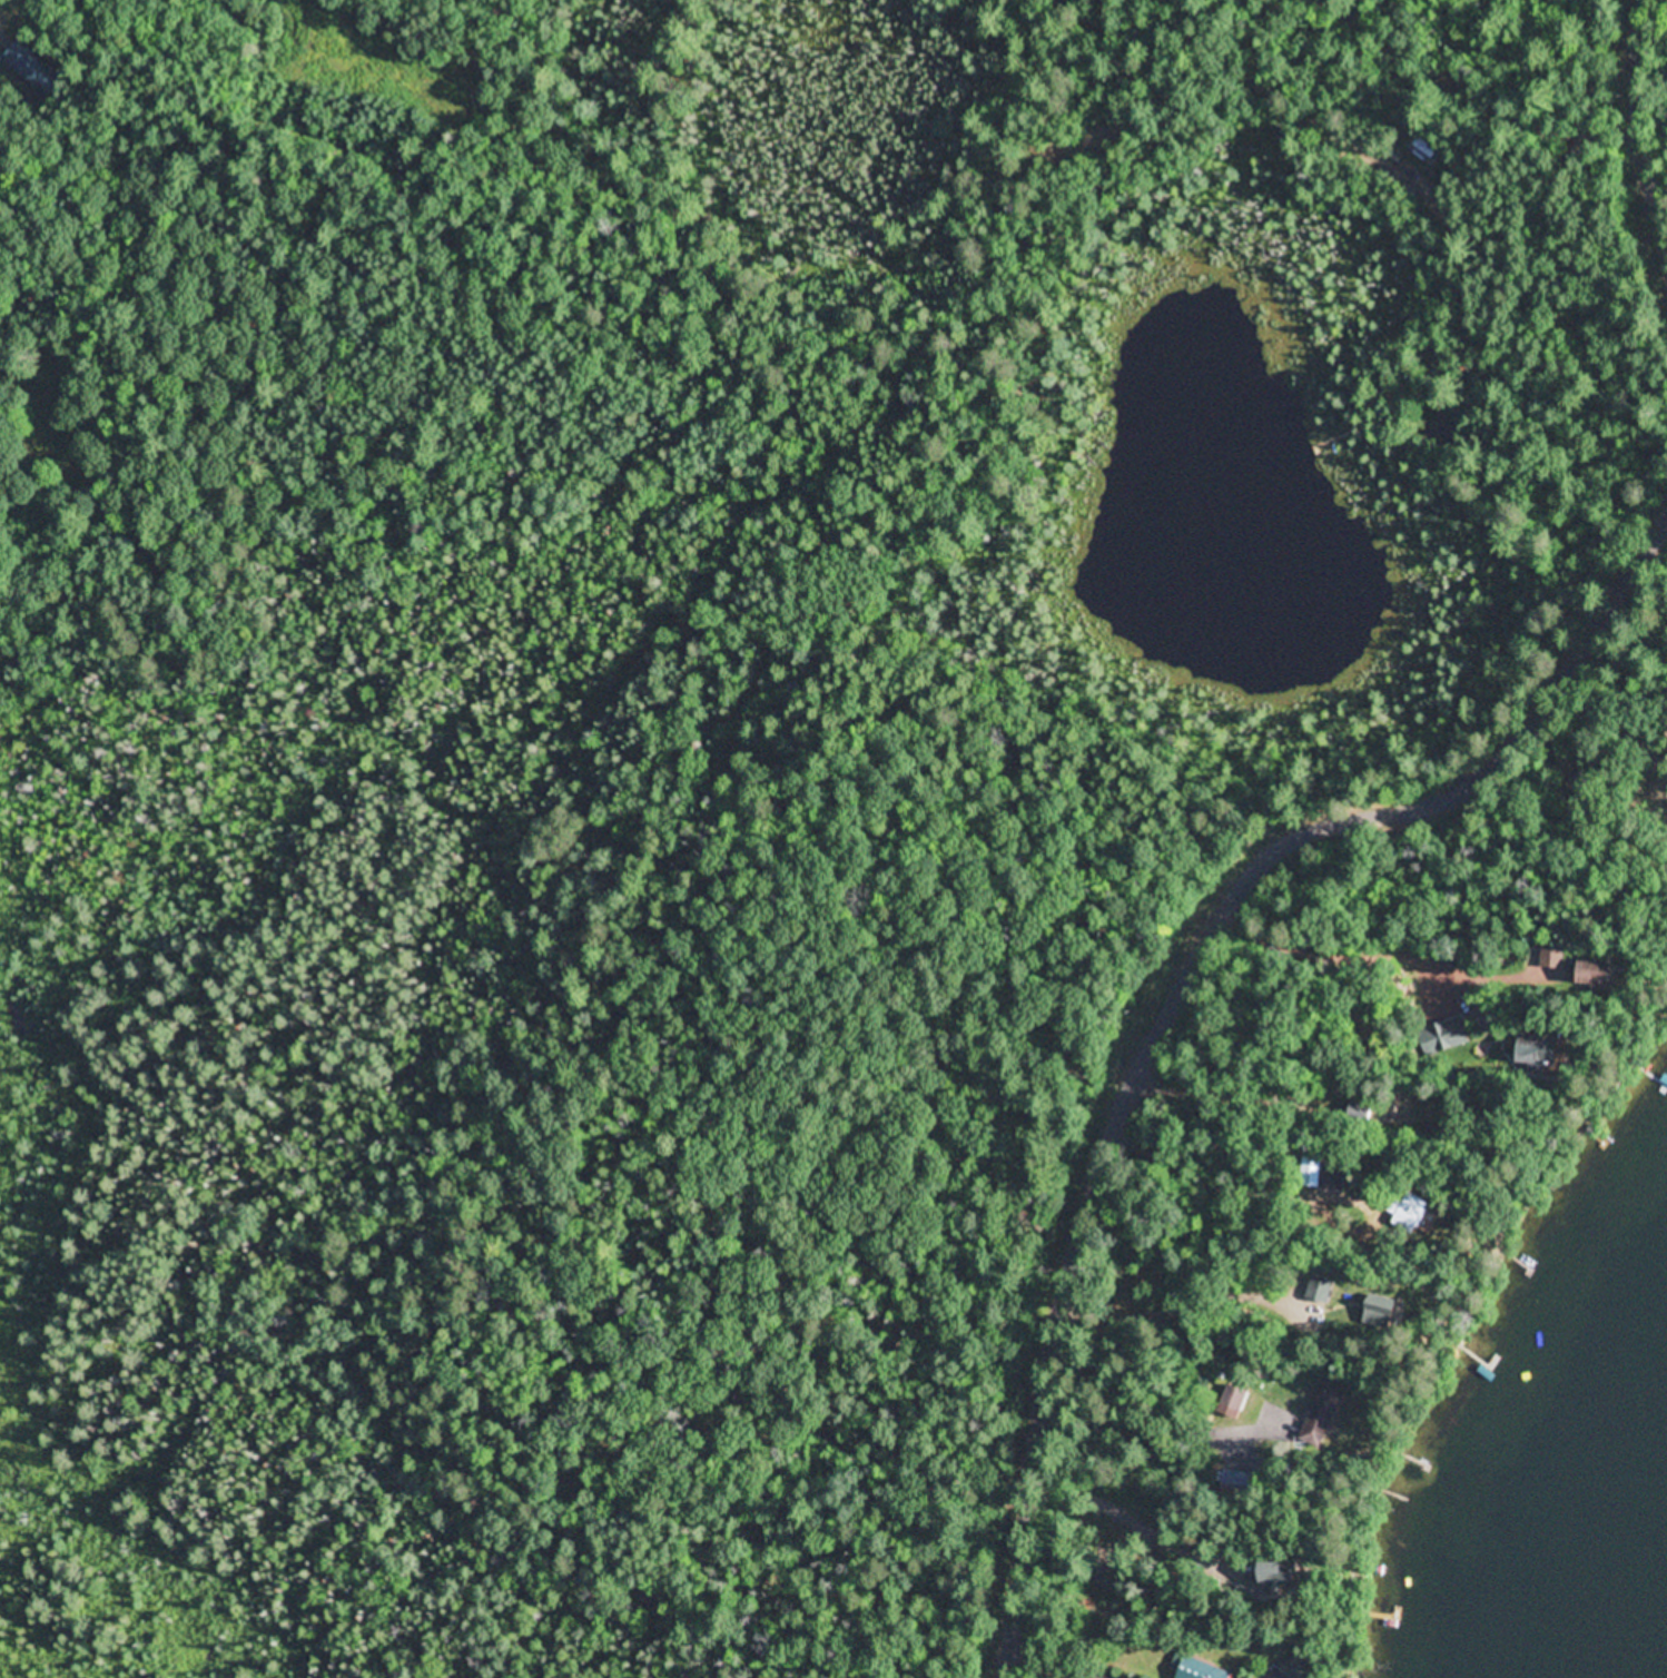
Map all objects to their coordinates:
road: (1644, 113)
building: (1552, 958)
building: (1605, 976)
road: (1178, 993)
building: (1453, 1034)
building: (1547, 1054)
building: (1362, 1113)
building: (1411, 1211)
building: (1325, 1414)
building: (1285, 1577)
building: (1201, 1670)
building: (1292, 1670)

